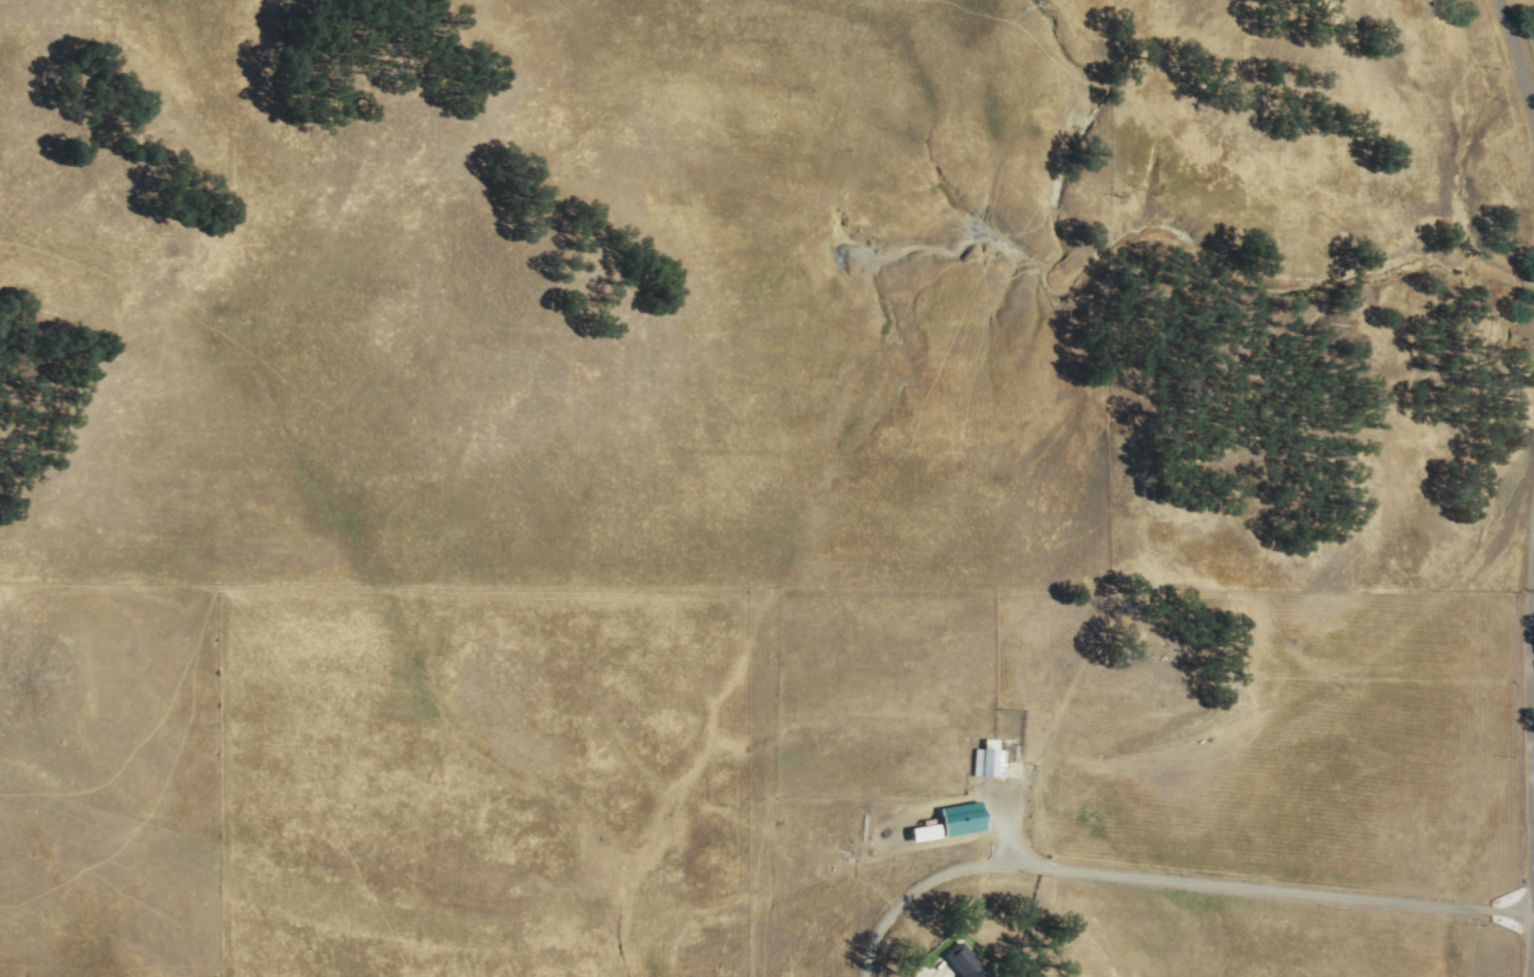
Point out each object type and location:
road: (1520, 42)
building: (987, 761)
building: (924, 831)
road: (1168, 878)
building: (969, 962)
road: (948, 973)

